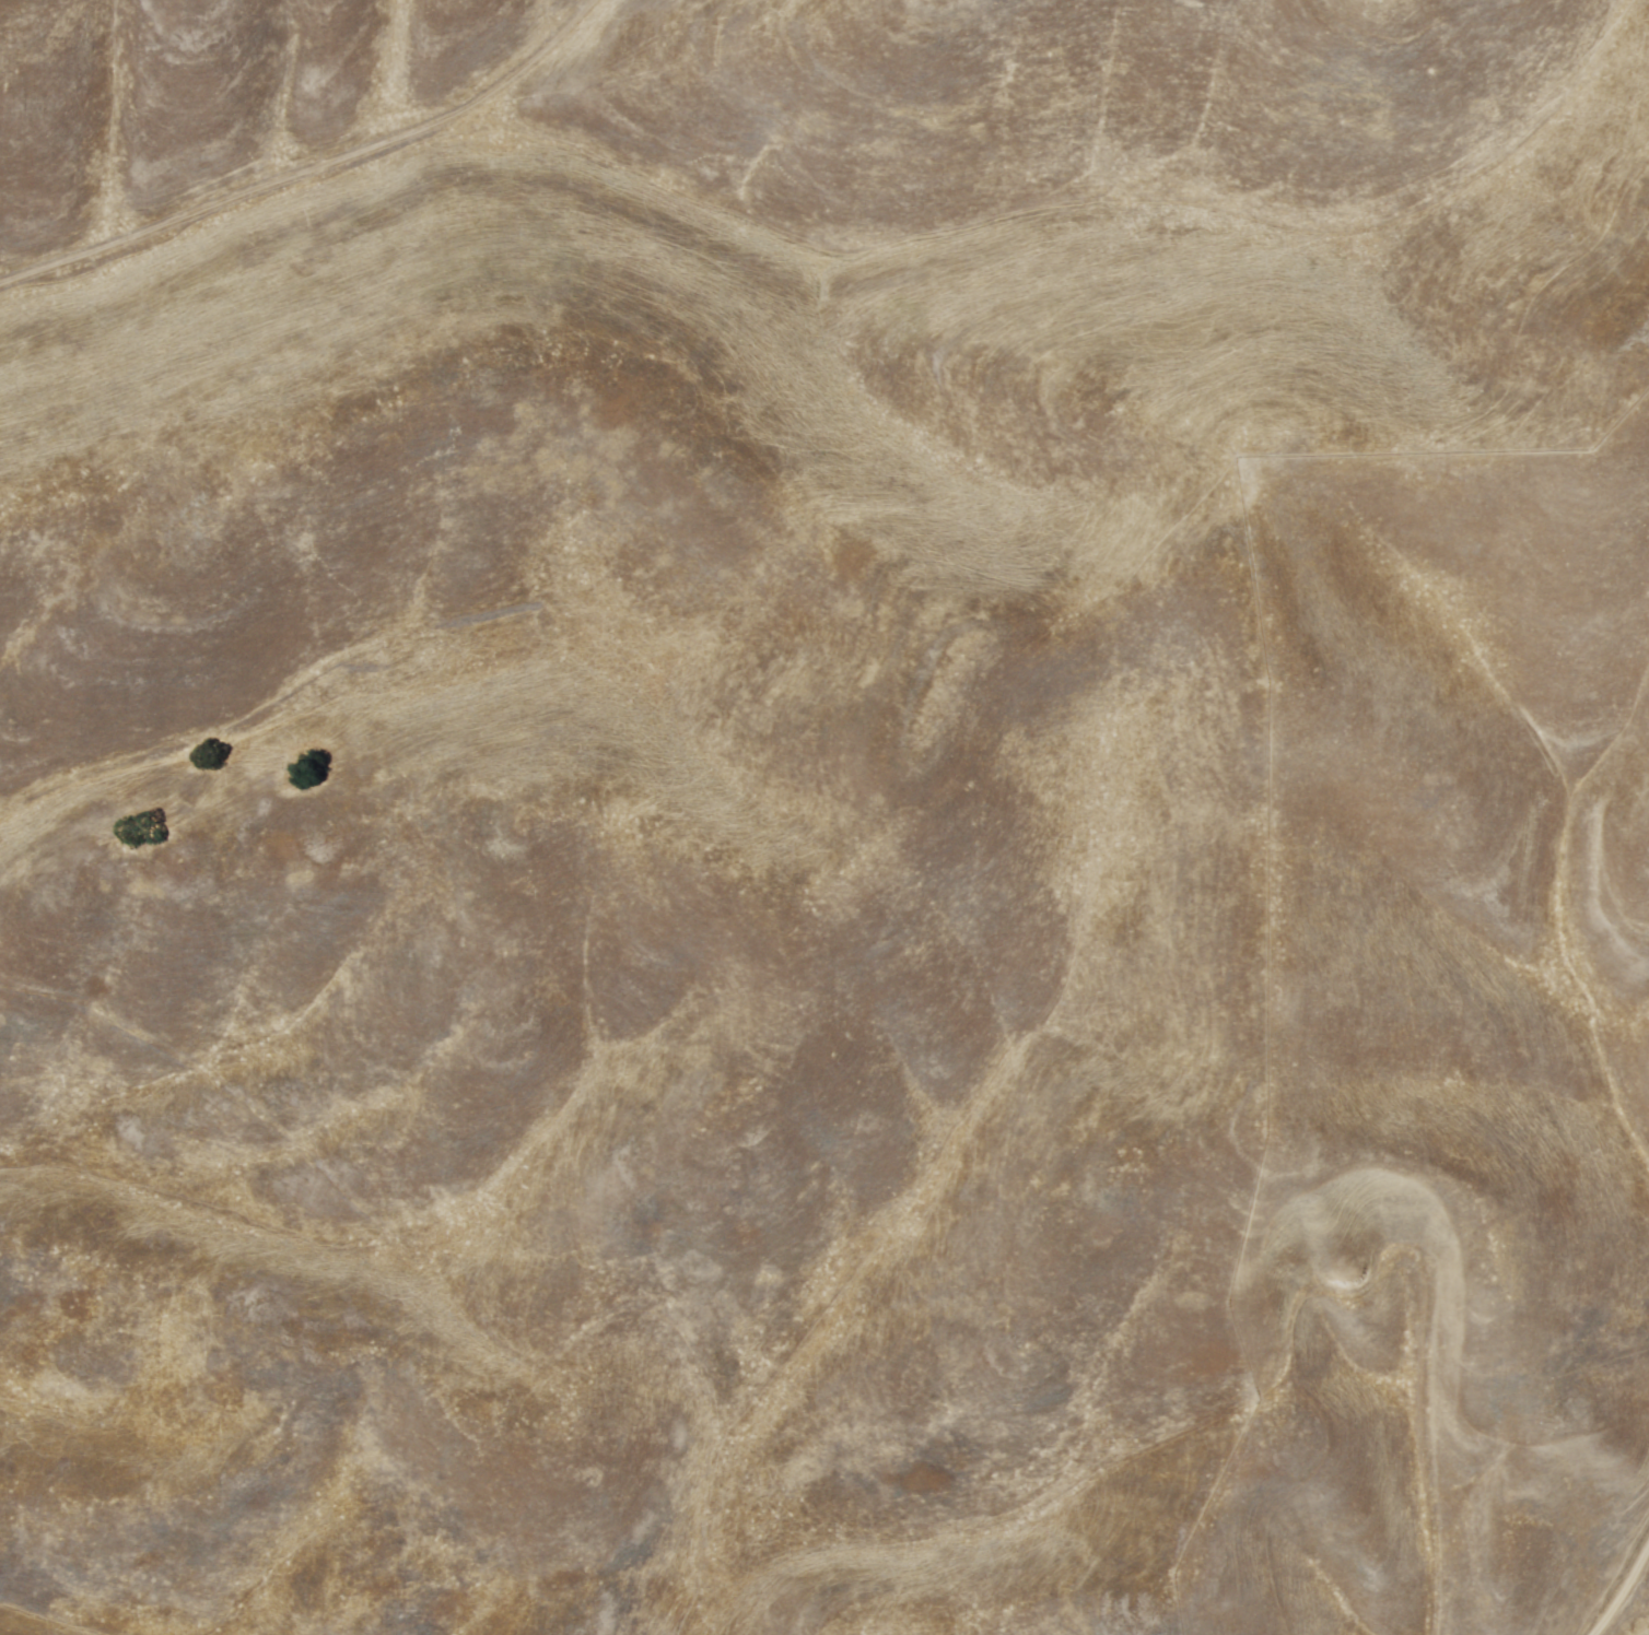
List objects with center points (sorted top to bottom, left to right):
road: (309, 172)
road: (1618, 1591)

